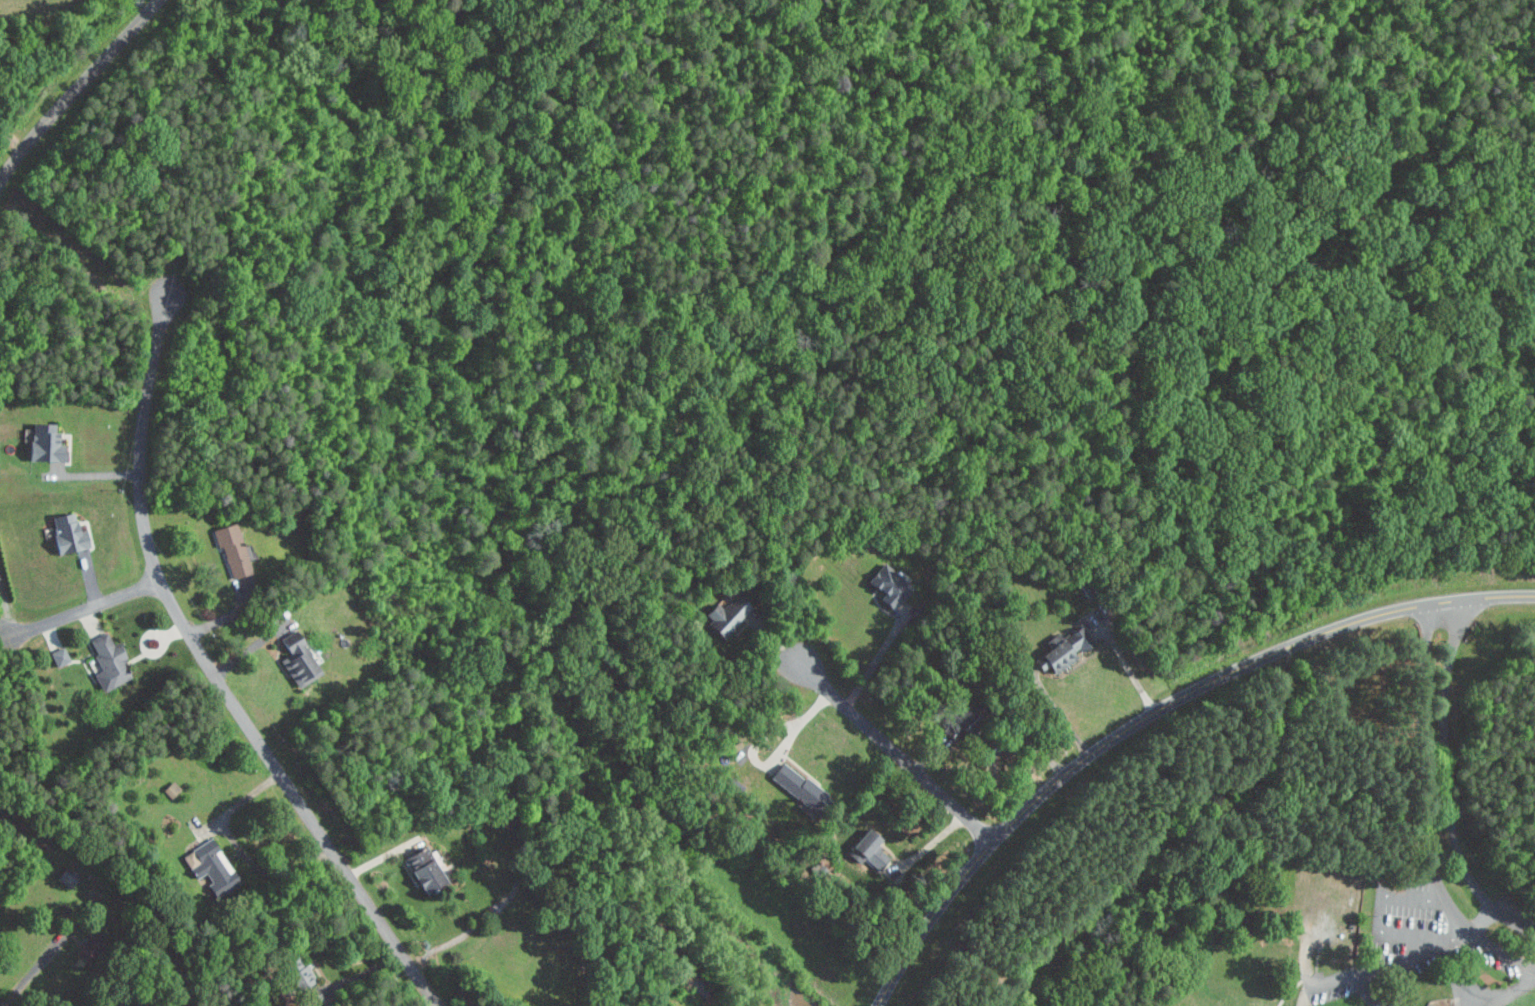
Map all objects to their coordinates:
road: (76, 89)
building: (42, 443)
building: (64, 533)
building: (231, 550)
building: (887, 586)
road: (86, 606)
building: (727, 615)
building: (741, 624)
building: (1060, 651)
building: (58, 656)
road: (878, 656)
building: (105, 661)
building: (296, 661)
road: (1126, 661)
road: (214, 674)
road: (1060, 712)
road: (1152, 714)
road: (800, 725)
road: (760, 737)
road: (1002, 744)
road: (898, 751)
park: (979, 765)
road: (1448, 782)
building: (800, 788)
building: (169, 789)
road: (1422, 807)
road: (929, 846)
building: (867, 849)
road: (243, 850)
building: (208, 865)
building: (420, 870)
building: (65, 878)
road: (1381, 902)
road: (1482, 915)
parking lot: (1424, 924)
road: (1456, 935)
parking lot: (1500, 965)
road: (1382, 967)
road: (33, 968)
building: (296, 973)
road: (1469, 981)

